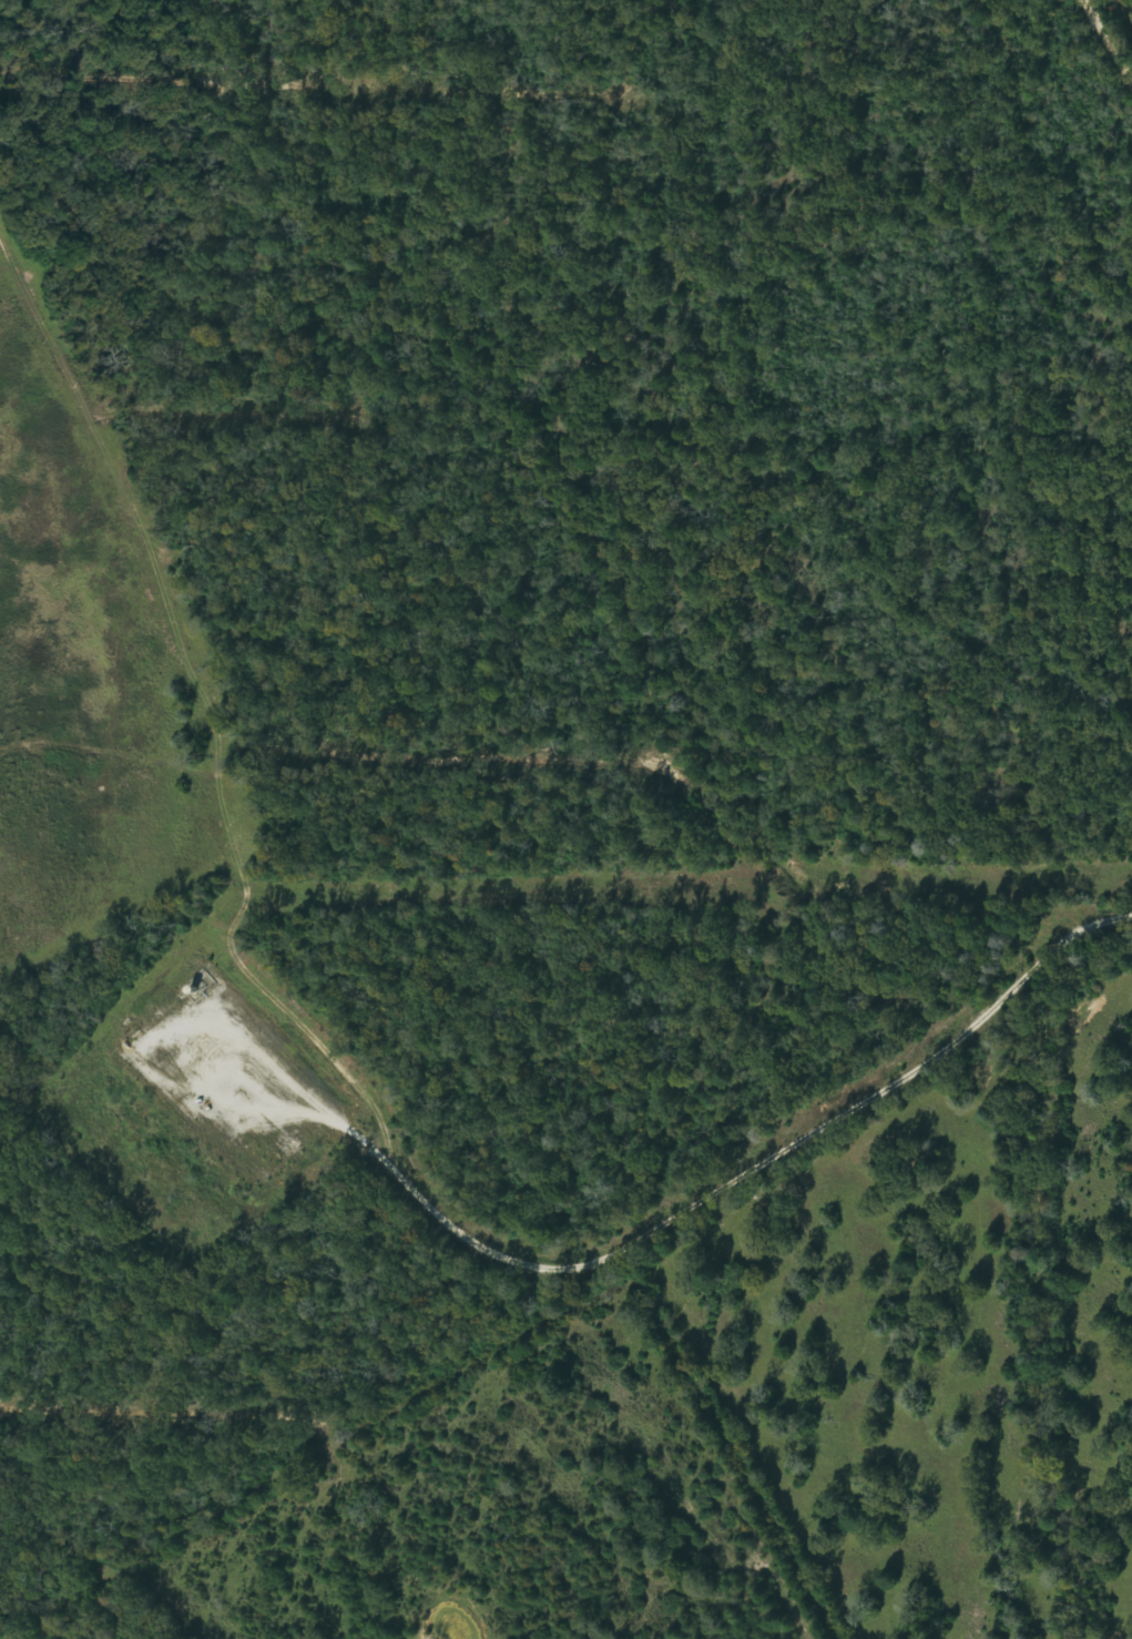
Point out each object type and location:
road: (1106, 40)
road: (578, 1323)

